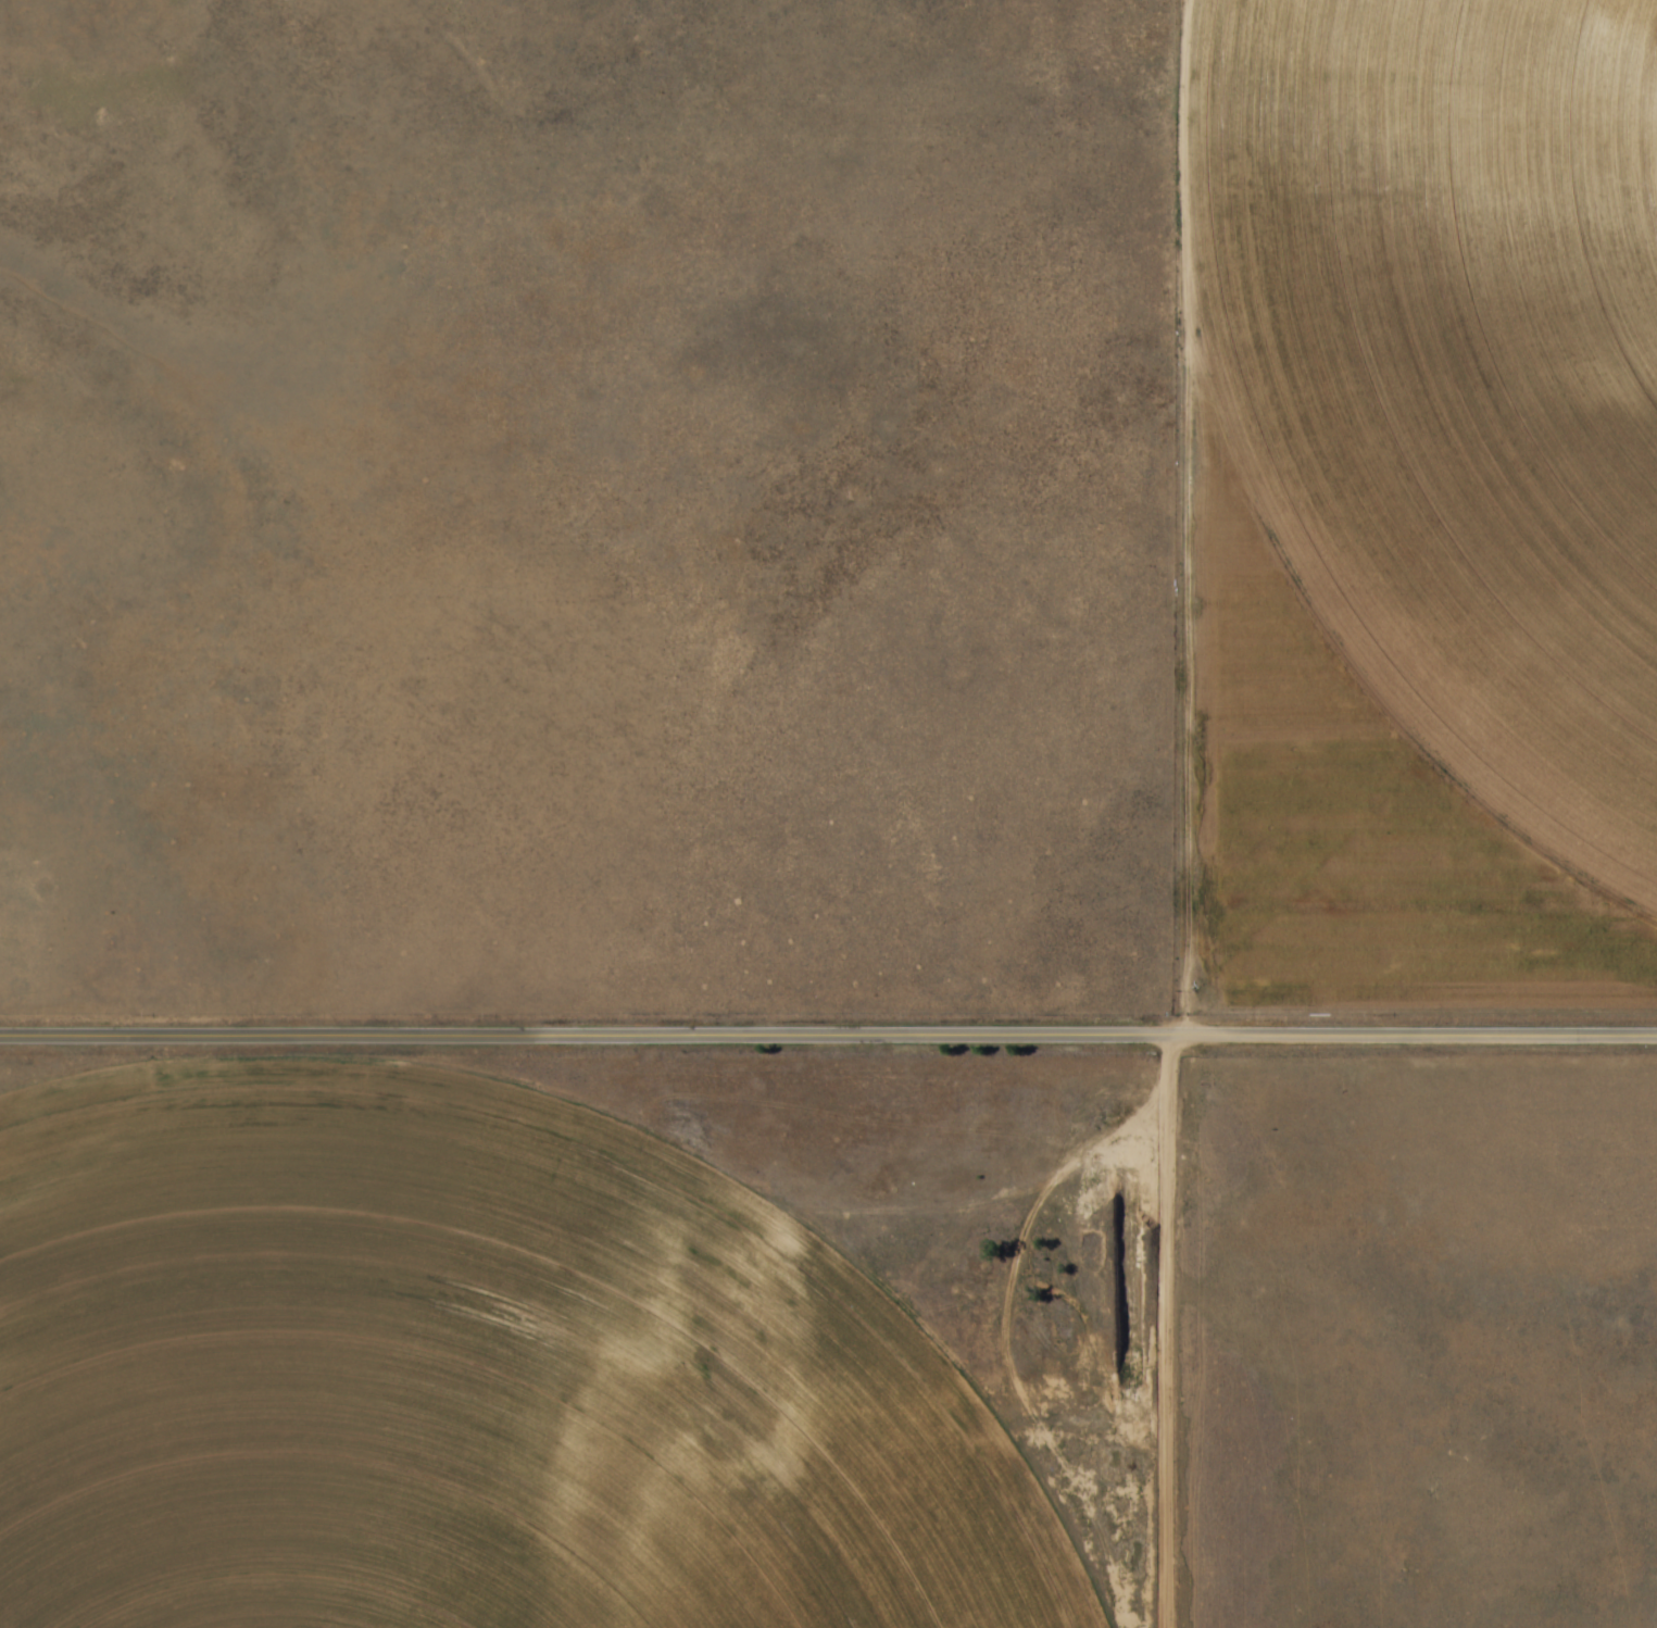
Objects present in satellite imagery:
road: (1180, 517)
road: (828, 1034)
road: (1172, 1331)

